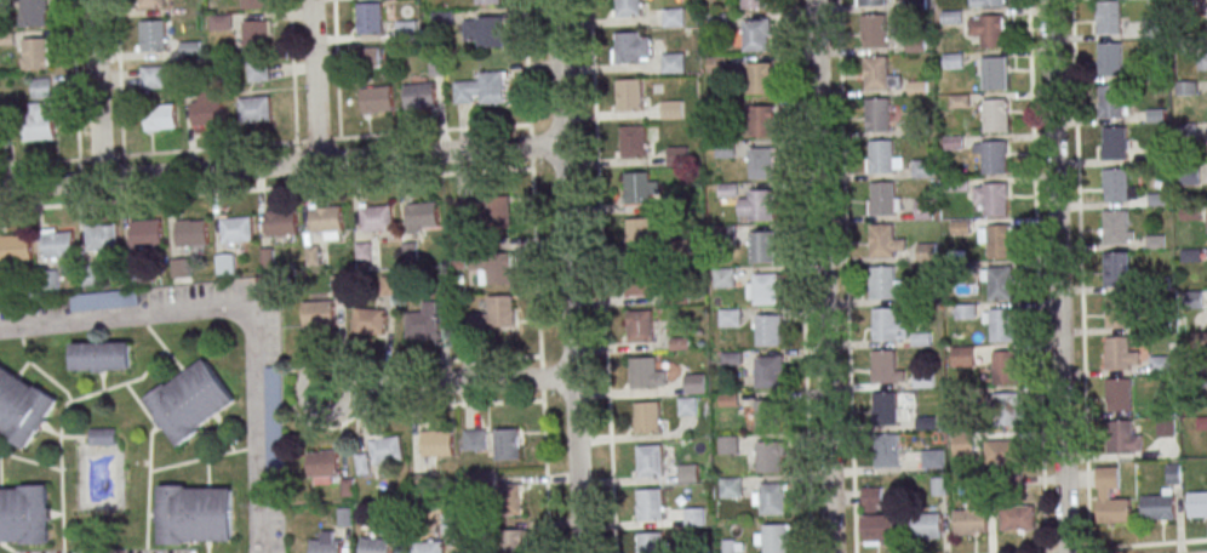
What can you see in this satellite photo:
building: (487, 1)
building: (871, 2)
building: (993, 2)
building: (150, 4)
building: (252, 4)
building: (753, 4)
building: (628, 7)
building: (32, 13)
building: (370, 18)
building: (673, 18)
building: (1108, 18)
building: (405, 30)
building: (988, 30)
building: (484, 32)
building: (874, 32)
building: (153, 35)
building: (254, 35)
building: (754, 36)
building: (628, 47)
building: (34, 55)
building: (370, 56)
building: (1110, 59)
road: (526, 63)
building: (673, 63)
building: (1203, 65)
road: (334, 69)
building: (256, 72)
road: (291, 72)
building: (875, 73)
building: (994, 74)
building: (154, 76)
road: (119, 79)
building: (757, 79)
road: (74, 80)
road: (313, 81)
building: (40, 87)
building: (482, 89)
road: (96, 91)
building: (629, 95)
building: (421, 96)
building: (376, 101)
building: (1110, 102)
building: (207, 109)
building: (253, 109)
building: (671, 110)
building: (877, 115)
building: (994, 116)
building: (159, 118)
building: (761, 121)
building: (36, 125)
building: (0, 137)
building: (633, 142)
building: (1115, 143)
road: (147, 155)
building: (677, 156)
building: (880, 158)
building: (993, 158)
building: (760, 164)
road: (280, 165)
building: (921, 169)
road: (404, 179)
building: (1116, 187)
building: (637, 189)
building: (881, 199)
building: (994, 200)
building: (677, 205)
building: (760, 205)
building: (923, 210)
building: (497, 211)
building: (421, 216)
building: (325, 220)
building: (376, 220)
building: (281, 223)
building: (1115, 228)
building: (235, 230)
building: (144, 233)
building: (190, 233)
building: (639, 234)
building: (725, 236)
building: (99, 238)
building: (881, 241)
building: (997, 241)
building: (57, 245)
building: (761, 247)
building: (15, 249)
building: (362, 252)
building: (408, 252)
building: (310, 256)
building: (267, 258)
building: (224, 266)
building: (494, 268)
building: (1117, 268)
building: (179, 269)
building: (135, 270)
road: (1079, 274)
building: (88, 275)
road: (567, 276)
road: (601, 276)
road: (801, 276)
road: (823, 276)
road: (846, 276)
road: (1035, 276)
road: (1056, 276)
building: (639, 279)
building: (722, 279)
building: (46, 281)
building: (882, 284)
building: (999, 284)
building: (391, 285)
building: (765, 290)
road: (258, 292)
building: (676, 296)
building: (965, 312)
building: (1117, 312)
building: (318, 313)
building: (492, 314)
building: (728, 319)
building: (368, 320)
building: (427, 321)
building: (639, 326)
building: (887, 326)
building: (1001, 326)
building: (767, 331)
building: (1116, 353)
building: (99, 355)
building: (962, 357)
road: (540, 360)
building: (1160, 365)
building: (882, 366)
building: (1005, 367)
building: (767, 372)
building: (642, 374)
road: (450, 382)
building: (694, 383)
building: (1117, 395)
building: (190, 401)
building: (687, 407)
building: (21, 409)
building: (885, 409)
building: (1006, 410)
building: (767, 416)
building: (274, 417)
building: (646, 417)
building: (1166, 427)
building: (101, 437)
building: (1117, 438)
building: (474, 440)
building: (436, 443)
building: (507, 444)
building: (963, 444)
building: (728, 445)
building: (387, 449)
building: (886, 451)
building: (1001, 452)
building: (767, 457)
building: (932, 458)
building: (650, 462)
building: (322, 466)
building: (688, 474)
building: (1173, 475)
building: (730, 489)
building: (1110, 497)
building: (511, 498)
building: (772, 500)
building: (1197, 503)
building: (650, 504)
building: (1157, 506)
building: (24, 514)
building: (194, 514)
building: (693, 518)
building: (971, 518)
building: (1018, 518)
building: (877, 519)
building: (927, 526)
building: (774, 538)
building: (514, 541)
building: (325, 542)
building: (651, 542)
building: (374, 545)
building: (428, 546)
building: (728, 546)
road: (1125, 546)
building: (699, 551)

